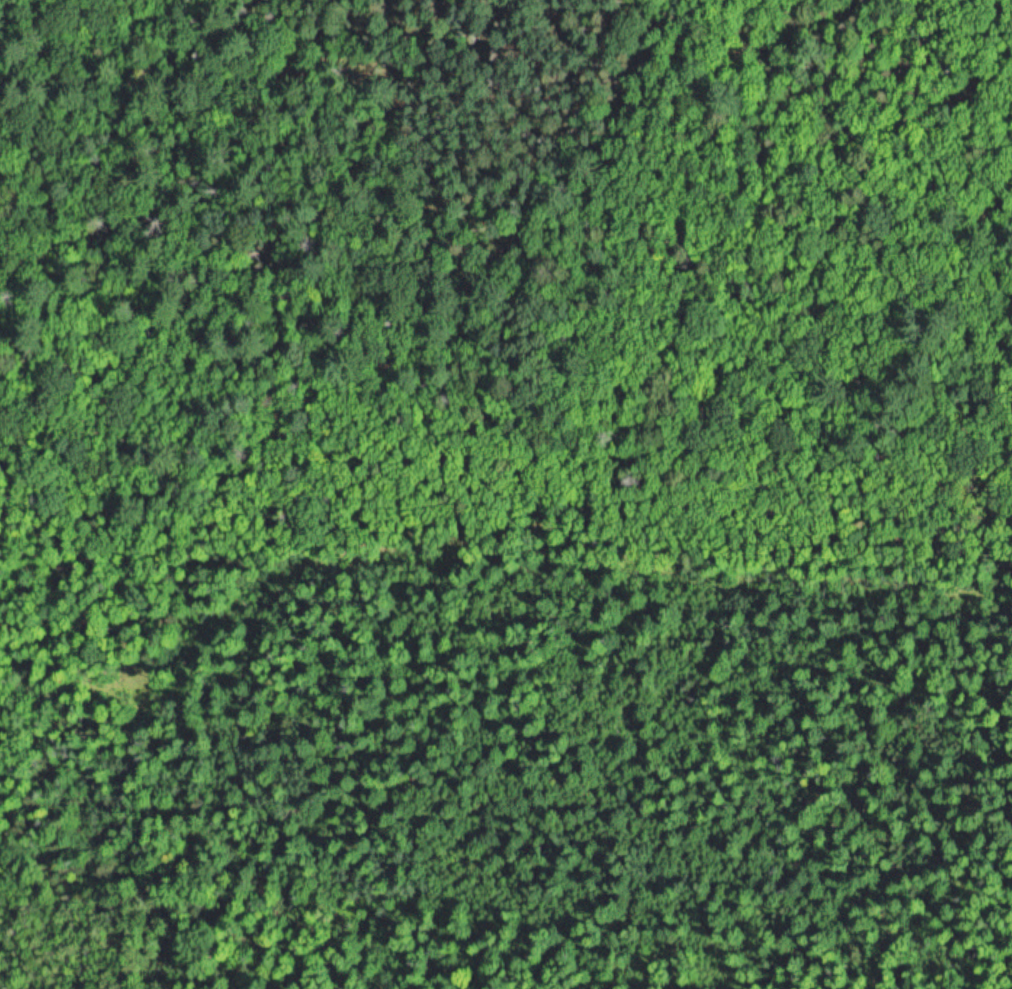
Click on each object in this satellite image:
road: (349, 181)

